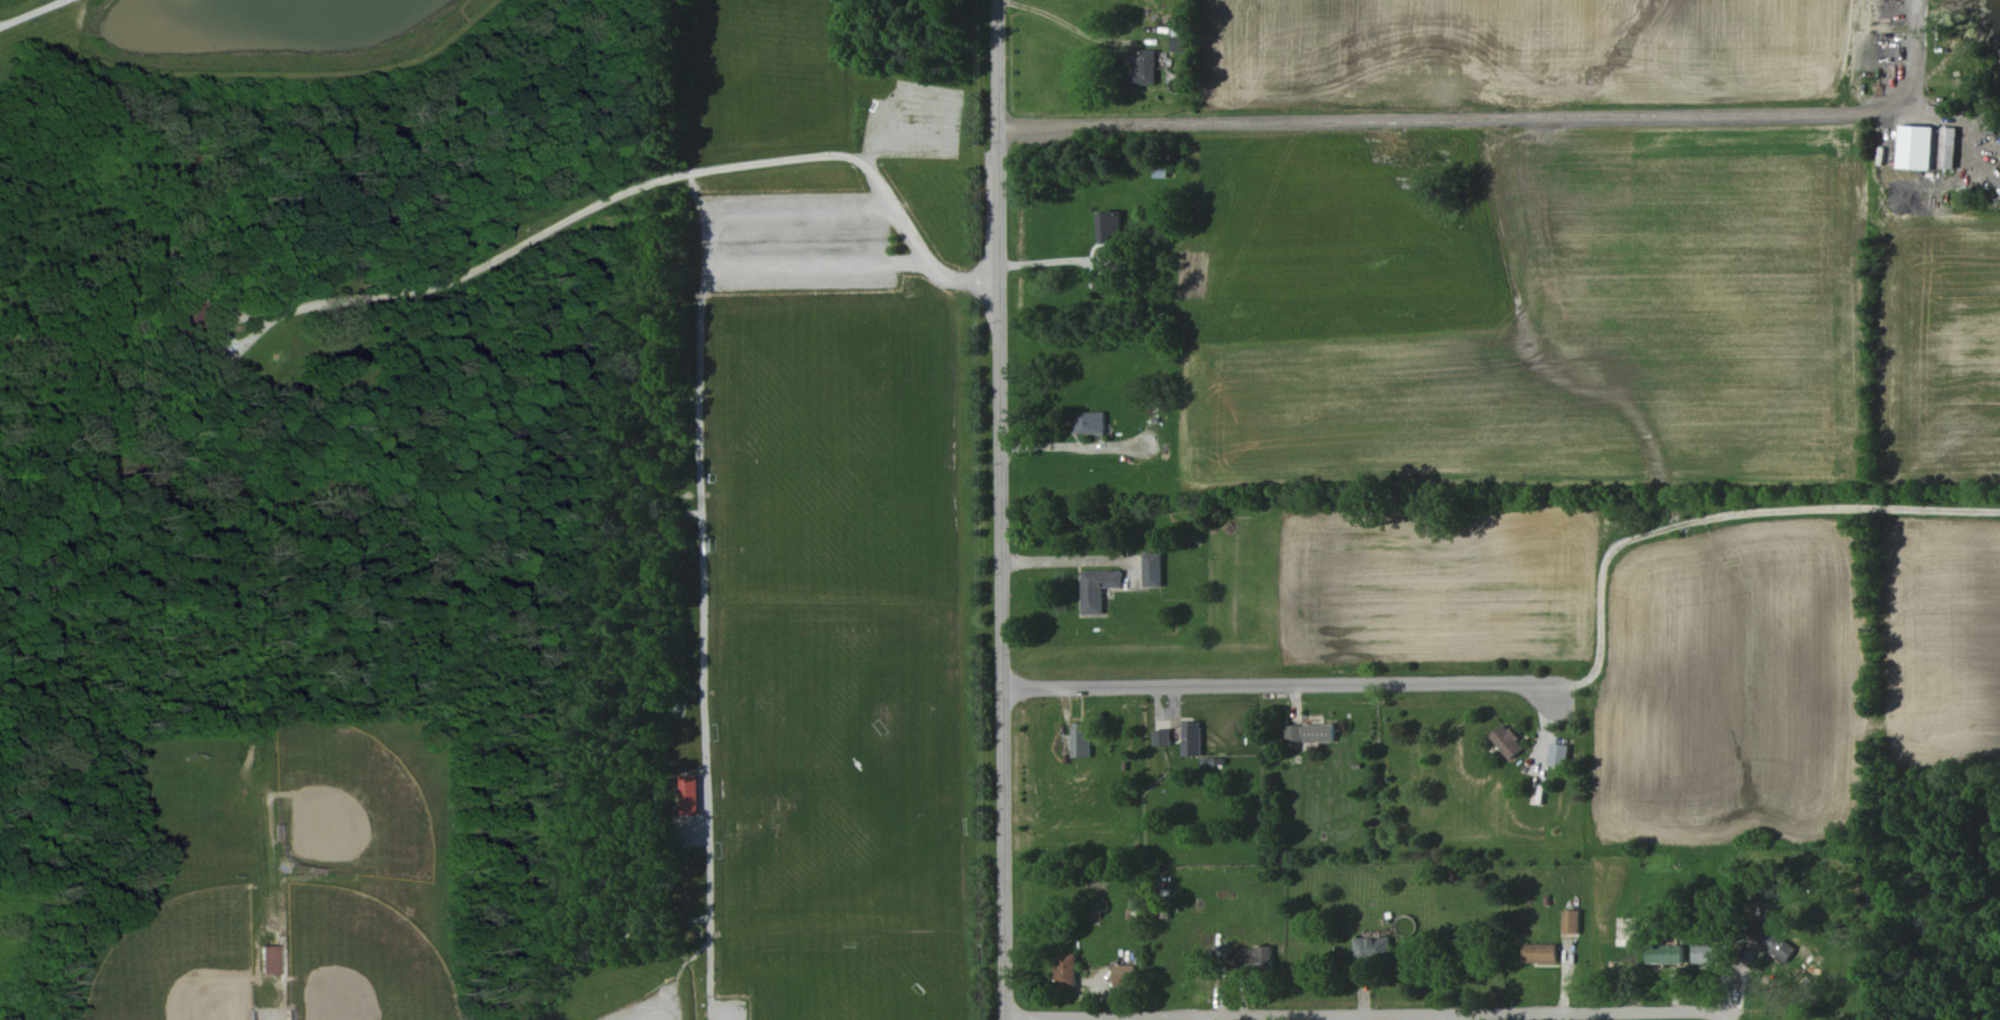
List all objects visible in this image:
road: (31, 12)
building: (1180, 36)
building: (1143, 66)
road: (1495, 110)
building: (1917, 147)
building: (1948, 147)
building: (1110, 227)
road: (920, 251)
road: (1049, 262)
building: (1106, 286)
building: (1090, 422)
road: (1058, 445)
road: (1001, 509)
road: (1720, 515)
road: (1063, 561)
building: (1152, 569)
building: (1098, 588)
road: (1285, 686)
building: (1310, 732)
building: (1162, 736)
building: (1192, 738)
building: (1081, 739)
building: (1507, 740)
building: (1558, 755)
building: (689, 795)
building: (1570, 921)
building: (1773, 942)
building: (1621, 944)
building: (1372, 952)
building: (1540, 952)
building: (1223, 953)
building: (1706, 953)
building: (1664, 954)
building: (1254, 958)
building: (269, 959)
building: (1066, 969)
building: (1124, 975)
road: (1367, 1016)

